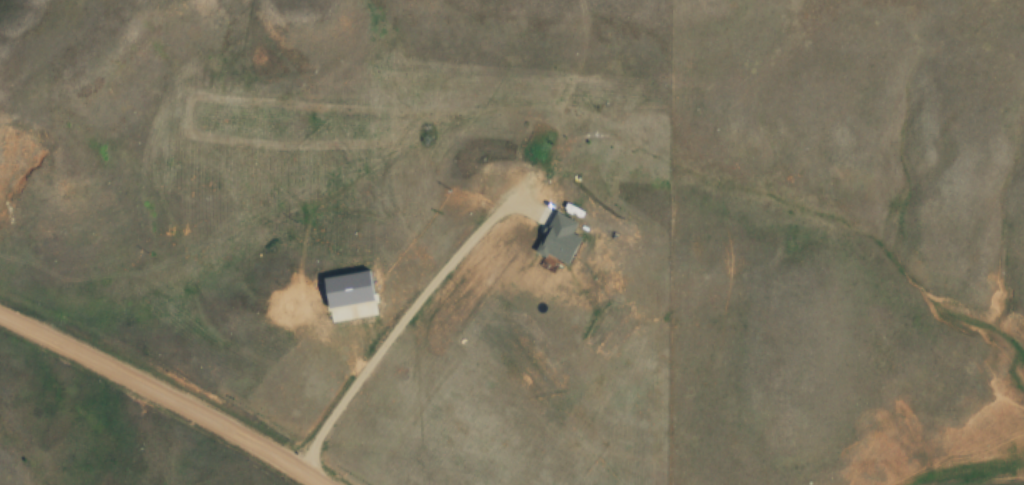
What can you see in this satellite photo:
road: (404, 335)
road: (163, 394)

